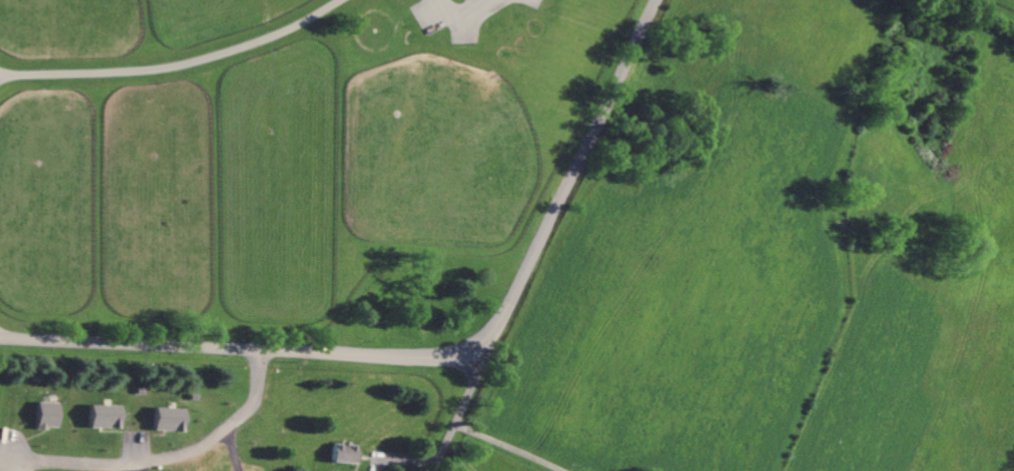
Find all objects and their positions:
road: (172, 62)
road: (436, 359)
road: (460, 410)
building: (49, 415)
building: (107, 416)
building: (170, 419)
road: (230, 438)
road: (509, 447)
building: (346, 453)
road: (26, 470)

